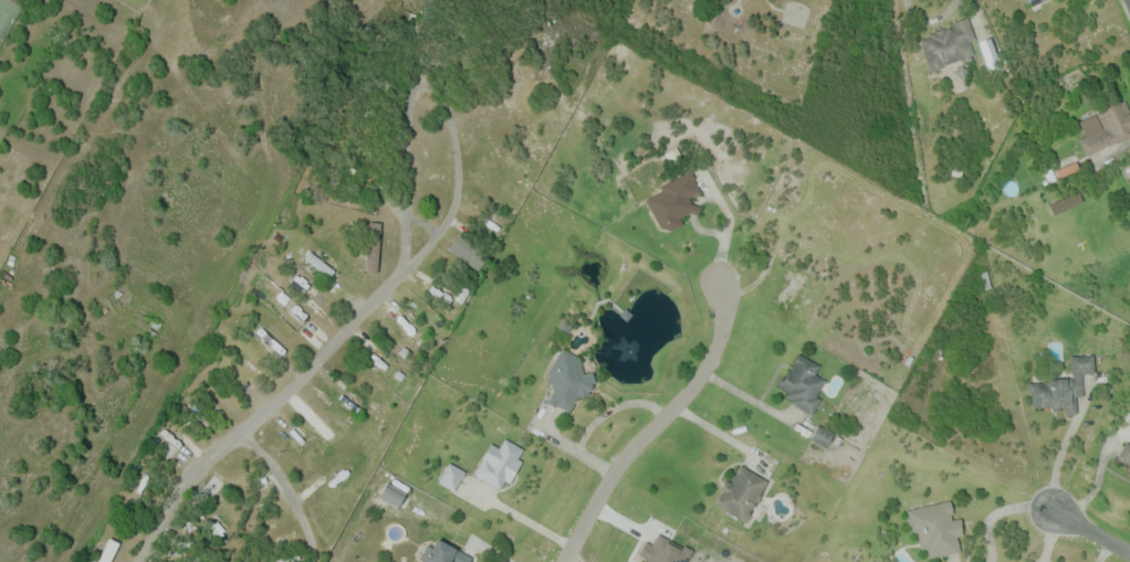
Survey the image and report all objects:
building: (1036, 2)
building: (950, 44)
building: (987, 53)
road: (438, 84)
building: (1106, 126)
building: (1061, 170)
building: (1129, 179)
building: (674, 201)
building: (1066, 202)
building: (374, 246)
building: (469, 252)
building: (320, 265)
building: (447, 288)
building: (405, 325)
building: (272, 341)
building: (372, 360)
building: (569, 381)
building: (804, 383)
building: (1061, 386)
road: (745, 395)
road: (264, 410)
road: (653, 424)
road: (718, 432)
building: (823, 435)
road: (1067, 442)
building: (1124, 455)
building: (499, 463)
building: (452, 476)
road: (1099, 480)
building: (217, 486)
road: (289, 489)
building: (259, 491)
building: (741, 494)
building: (393, 495)
road: (1000, 512)
road: (530, 522)
building: (211, 523)
building: (934, 528)
road: (1091, 531)
building: (109, 551)
building: (663, 551)
building: (442, 552)

